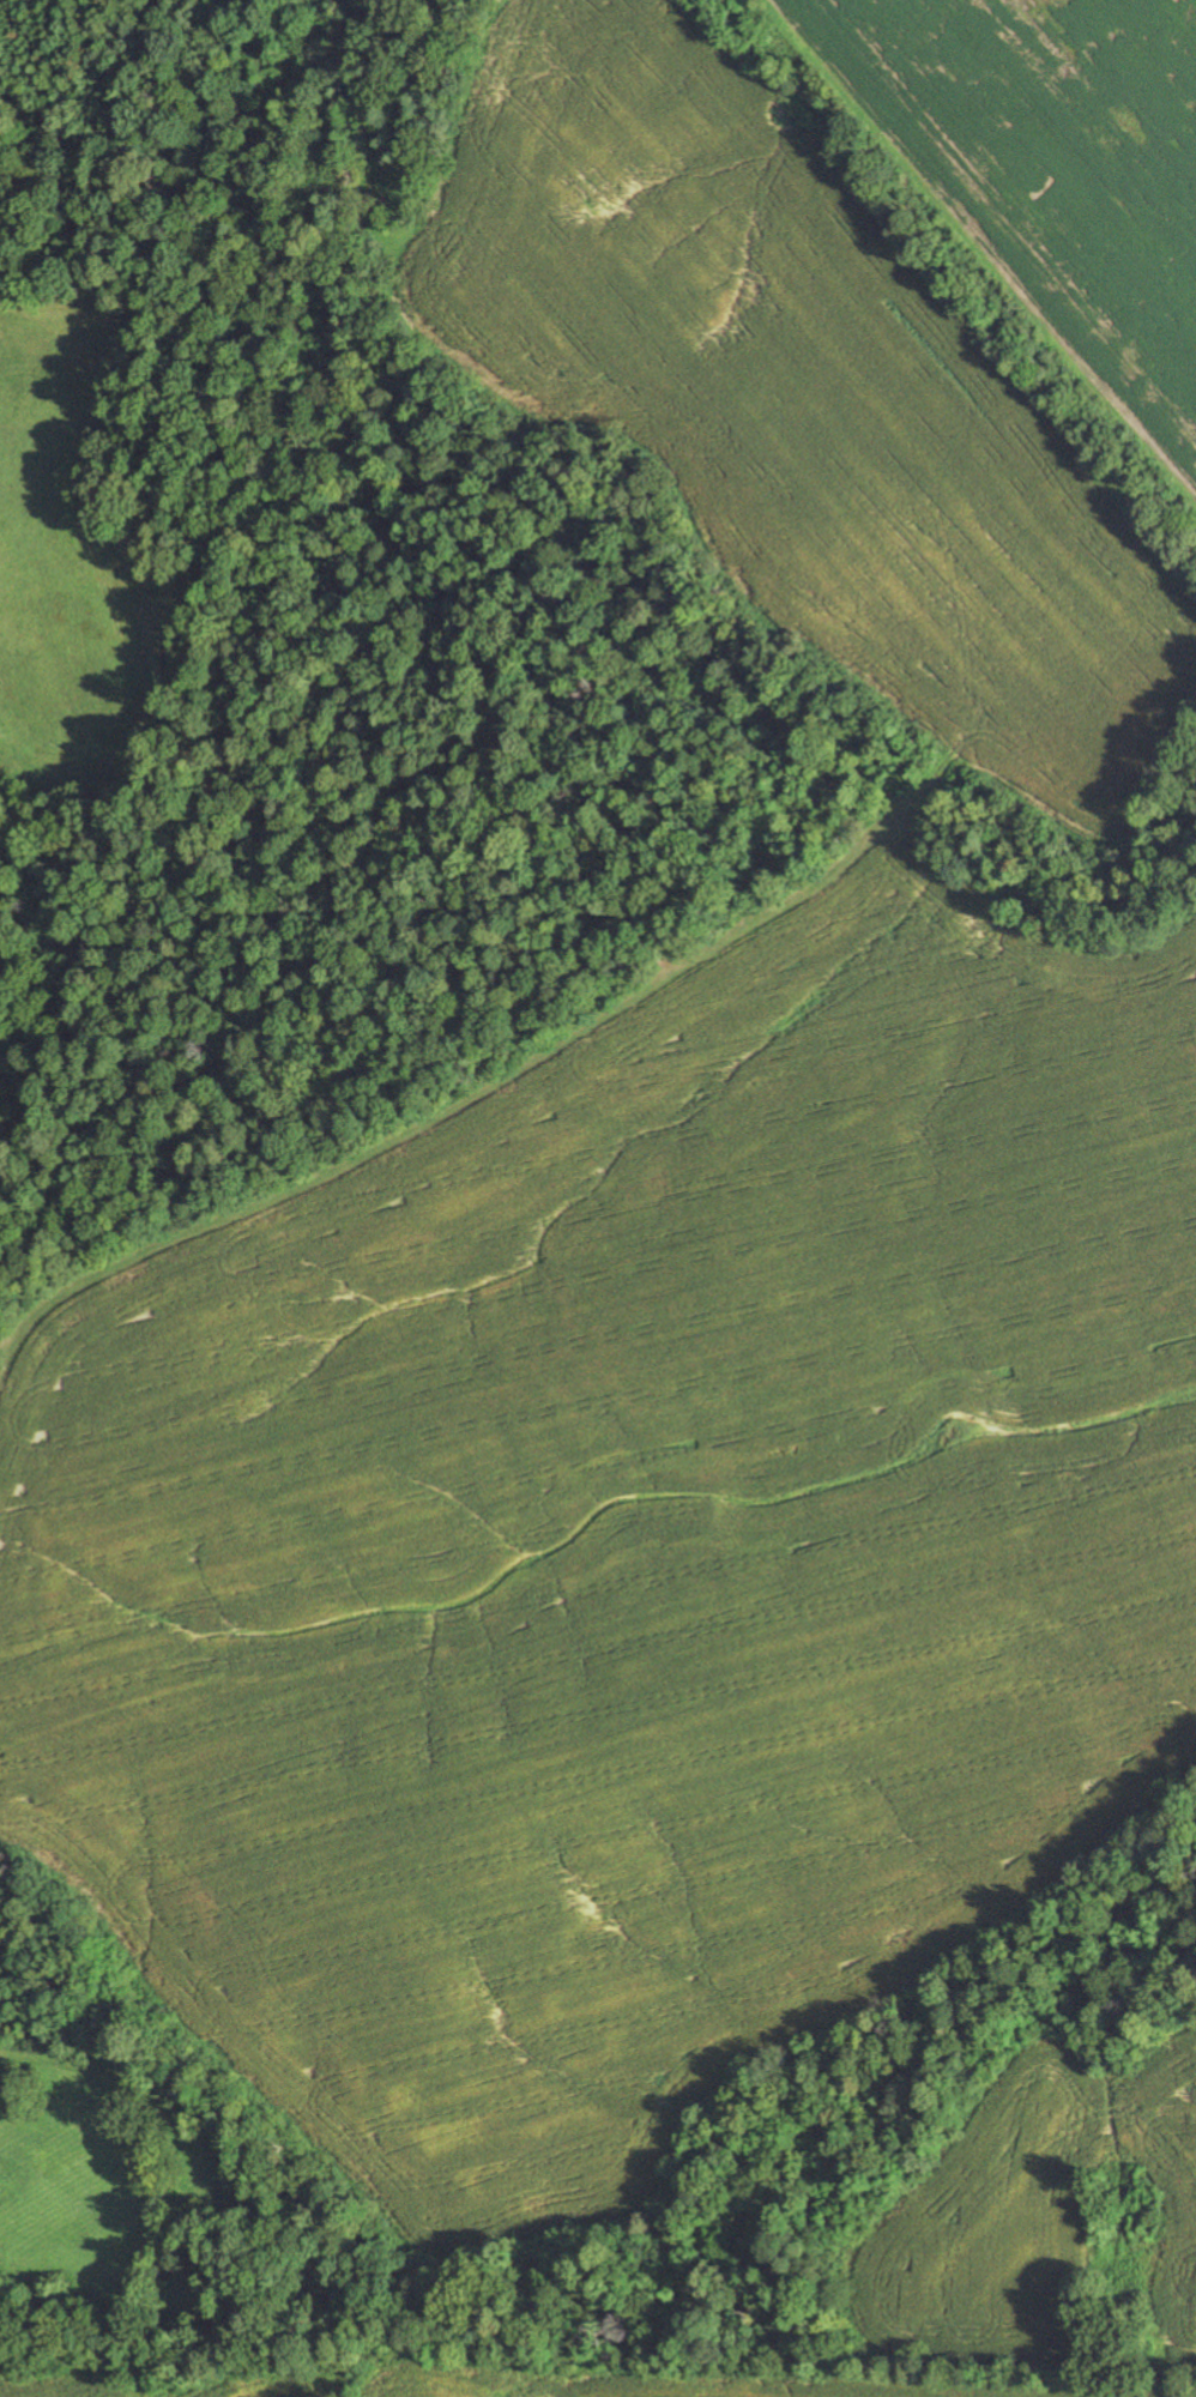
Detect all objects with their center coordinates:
road: (56, 2066)

